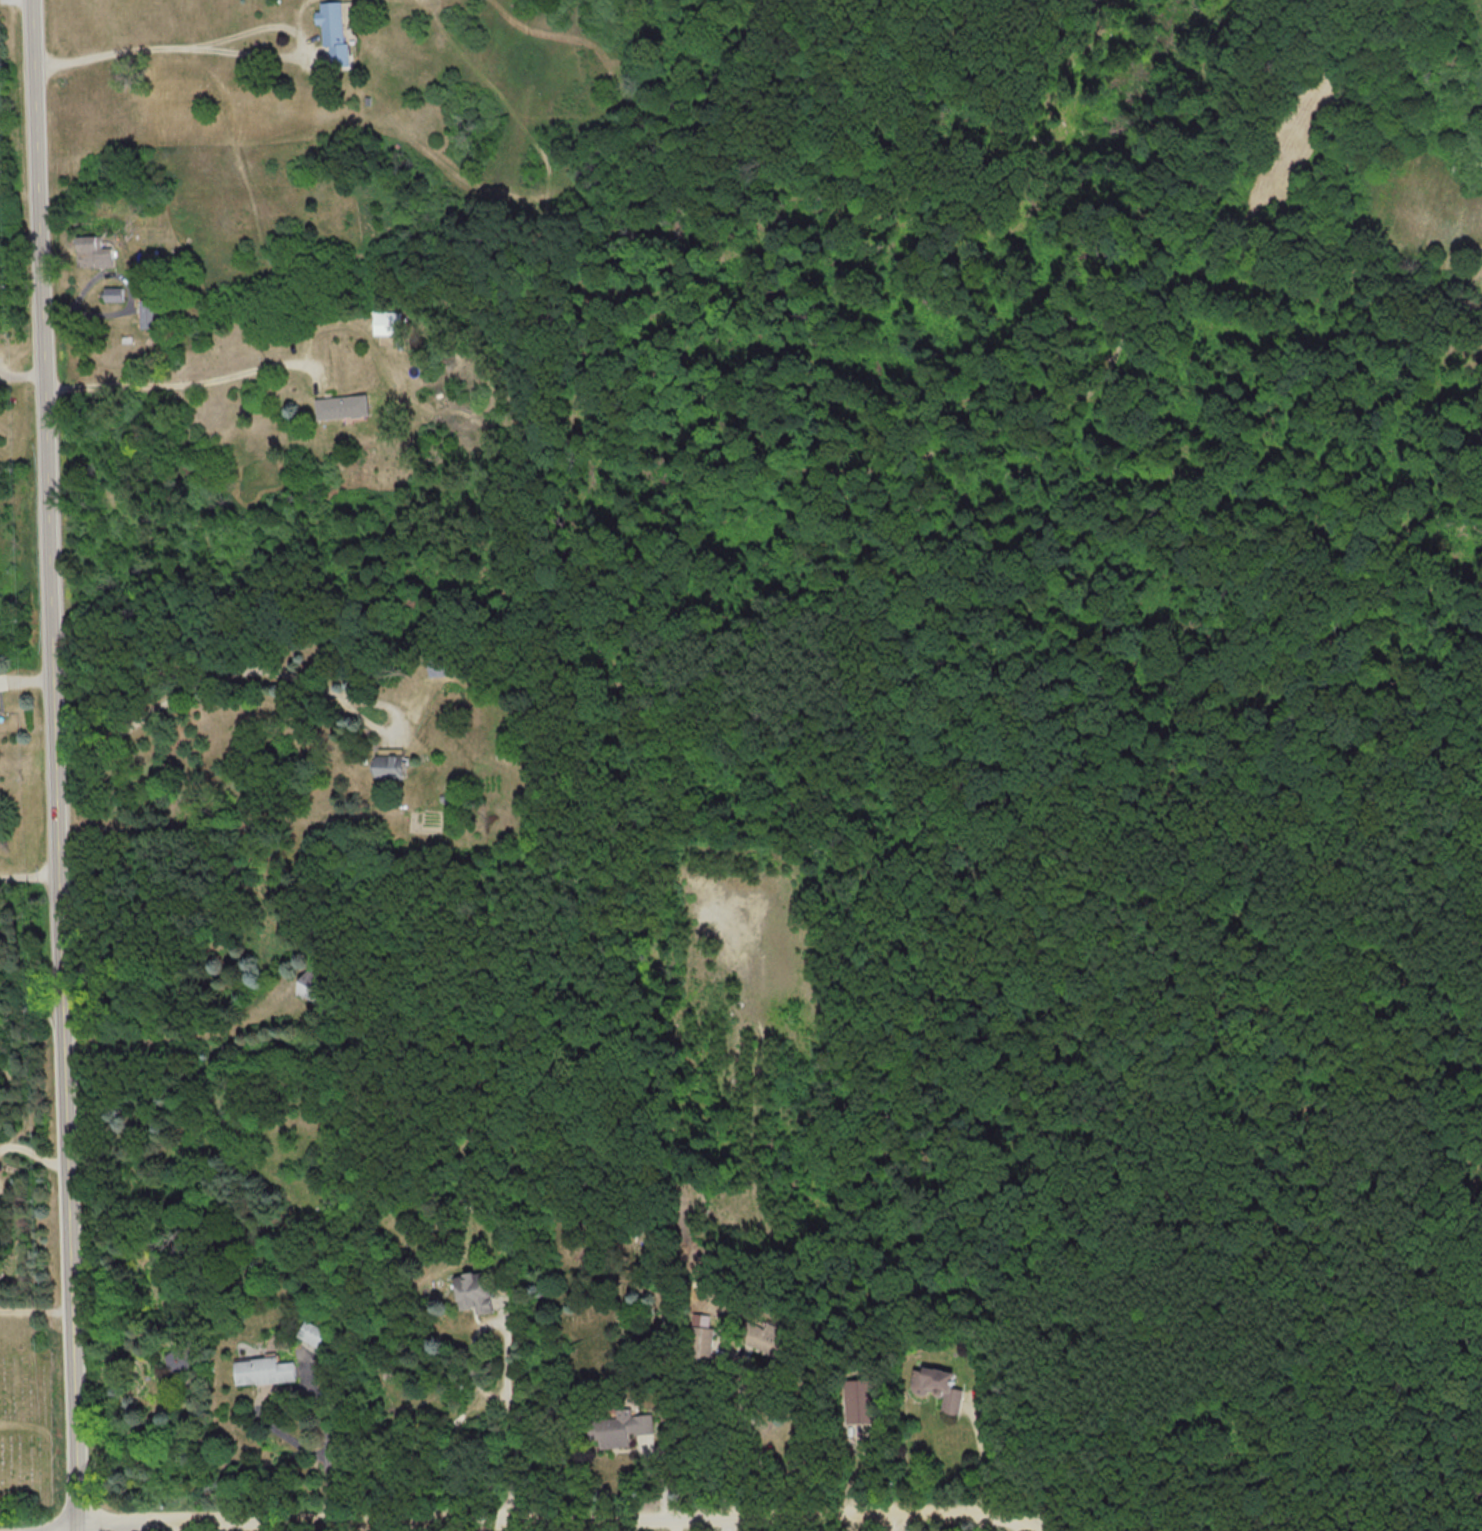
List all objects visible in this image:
building: (336, 31)
road: (234, 50)
building: (95, 252)
building: (114, 293)
building: (151, 312)
building: (389, 322)
road: (186, 382)
building: (343, 406)
building: (442, 665)
road: (263, 670)
building: (391, 762)
road: (61, 765)
park: (1233, 964)
building: (316, 991)
road: (180, 1035)
road: (35, 1153)
building: (477, 1292)
road: (37, 1308)
building: (311, 1333)
building: (769, 1339)
building: (703, 1341)
building: (185, 1352)
building: (266, 1369)
road: (301, 1386)
building: (941, 1386)
road: (513, 1406)
park: (29, 1412)
road: (18, 1424)
building: (621, 1428)
road: (733, 1442)
road: (1237, 1465)
road: (521, 1516)
road: (894, 1519)
road: (591, 1523)
road: (417, 1525)
road: (1042, 1527)

